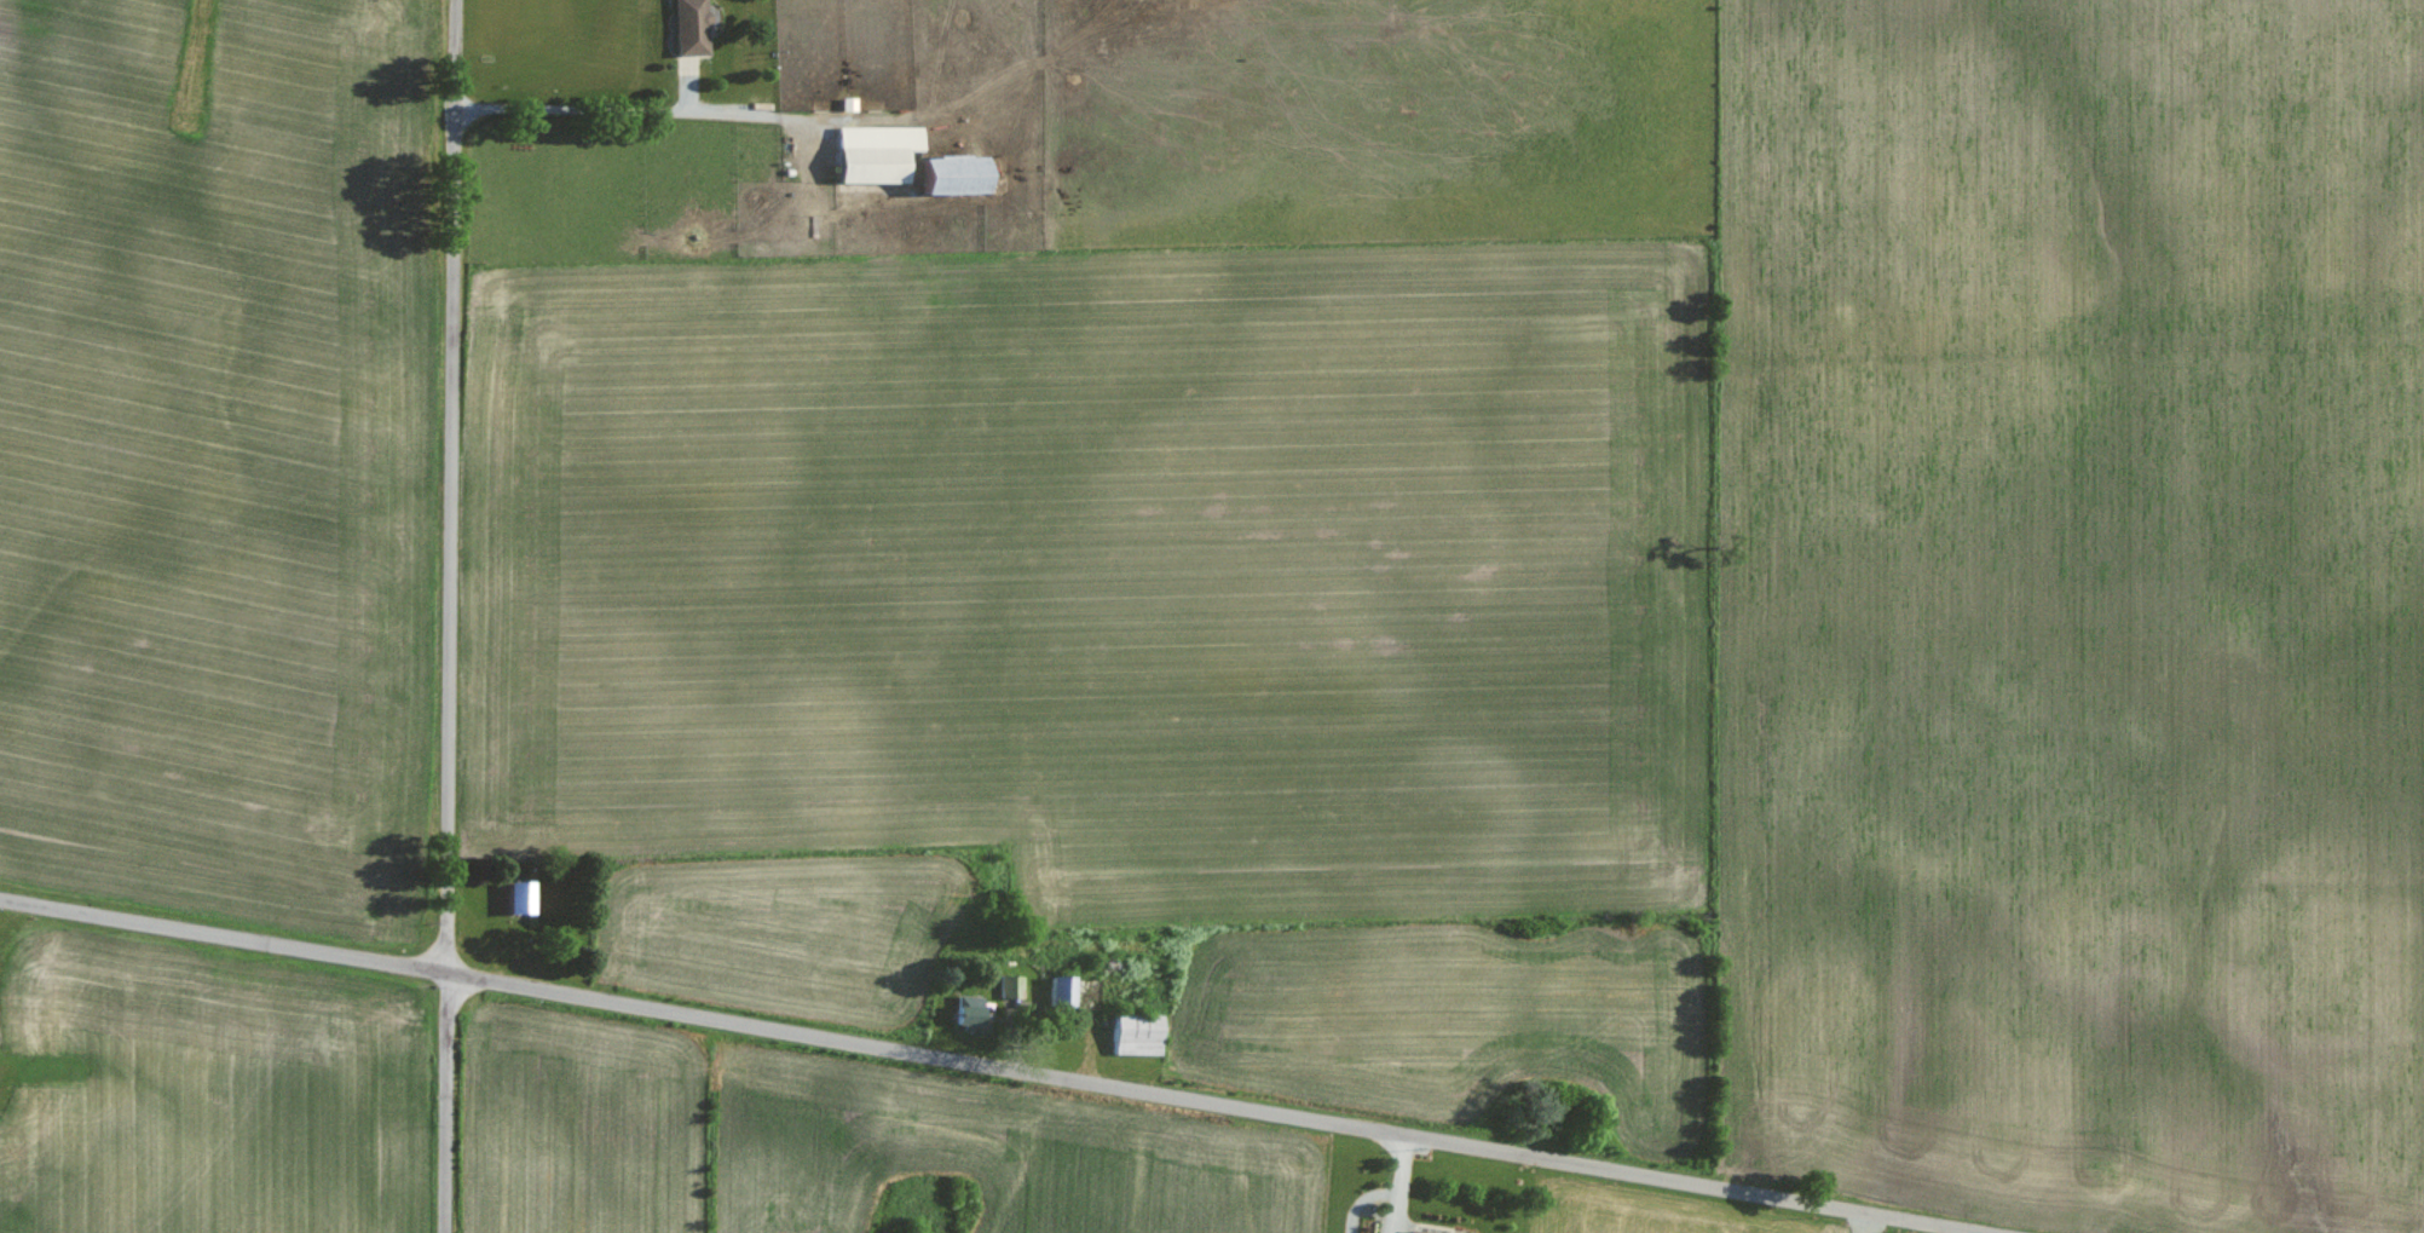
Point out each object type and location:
building: (686, 27)
road: (599, 108)
building: (870, 152)
building: (942, 174)
road: (450, 616)
building: (514, 897)
road: (223, 933)
building: (1067, 992)
building: (962, 1010)
building: (1133, 1033)
road: (1216, 1104)
building: (1419, 1232)

